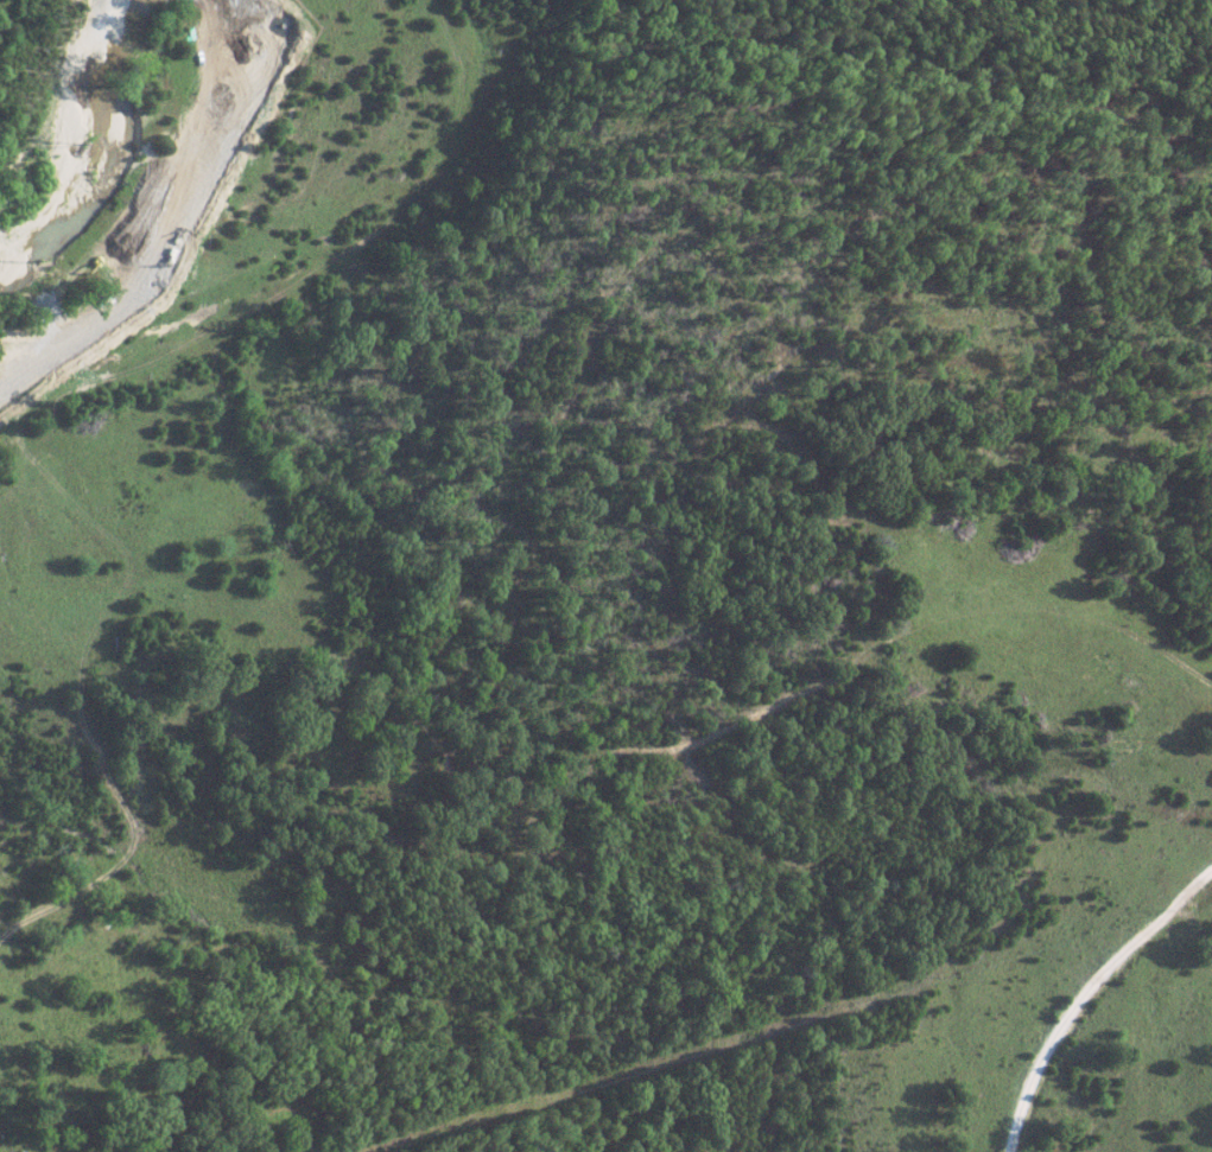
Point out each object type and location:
road: (1085, 993)

